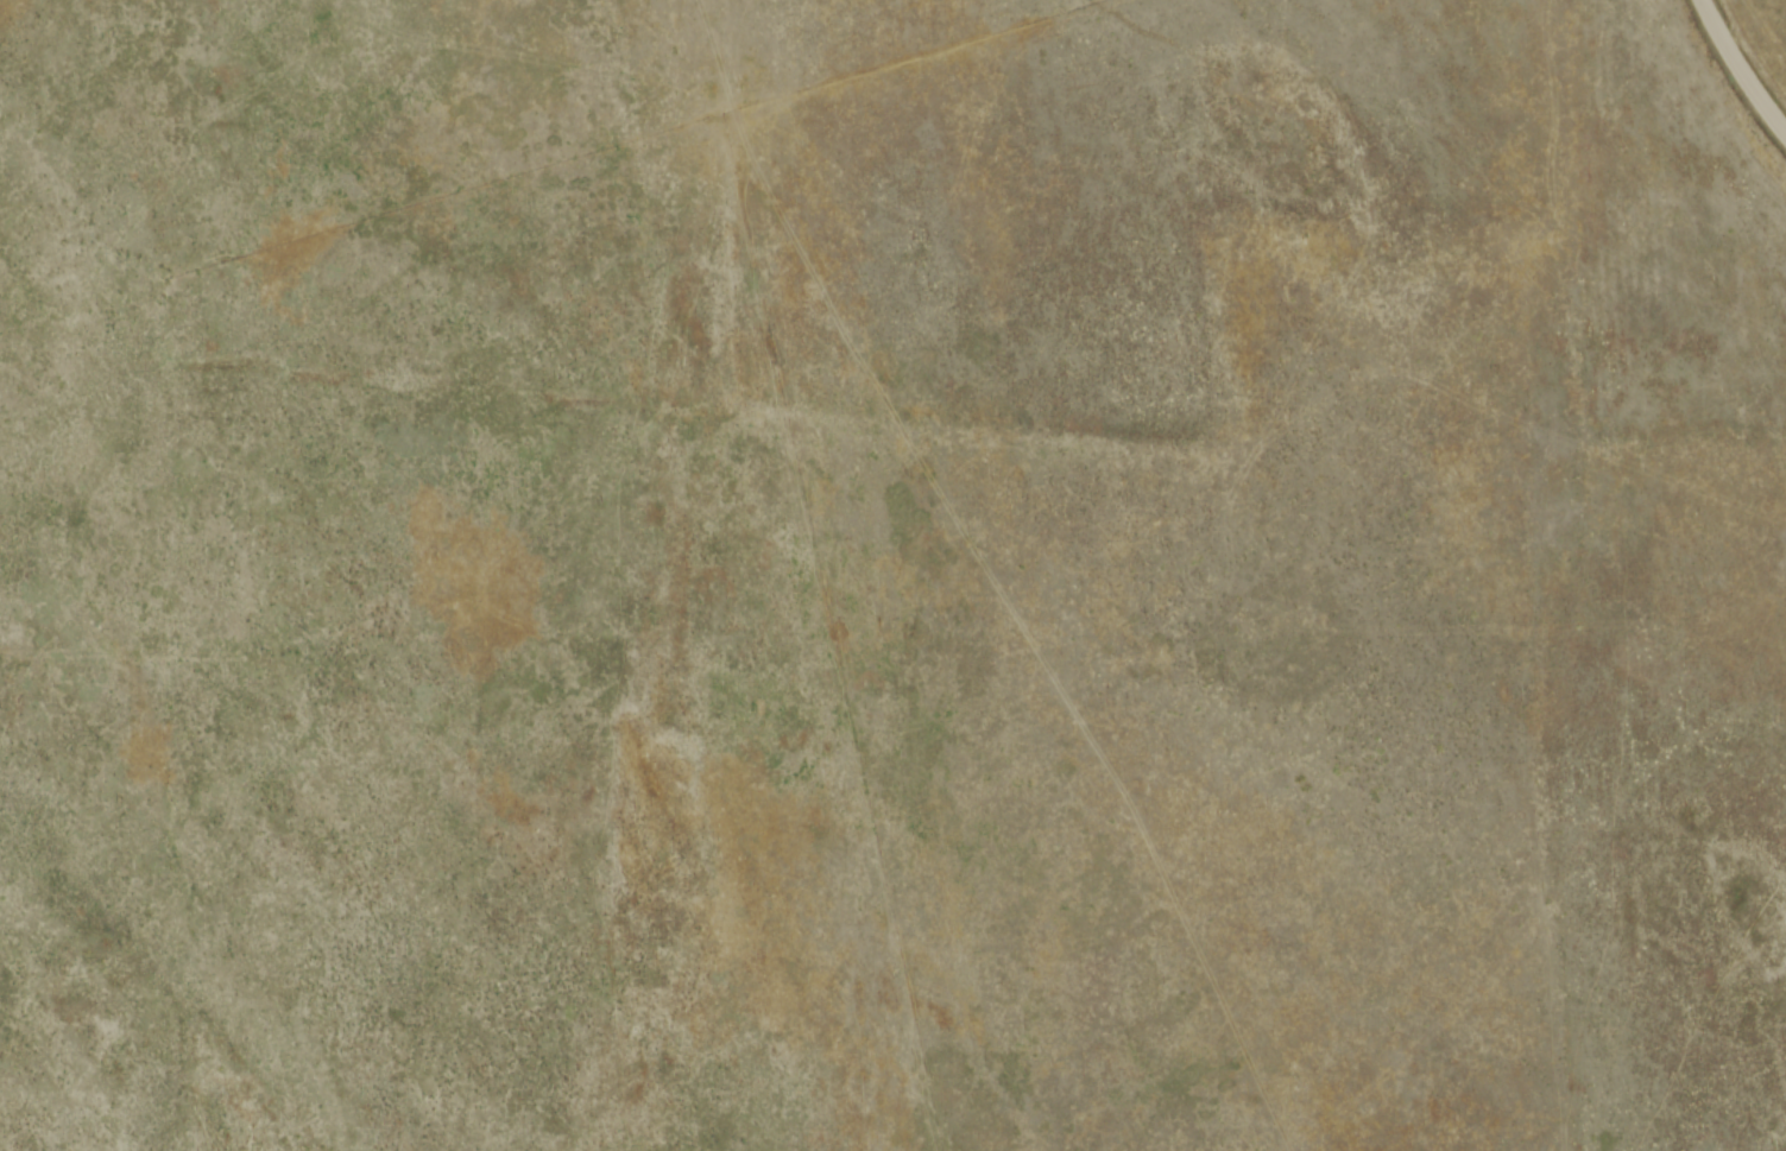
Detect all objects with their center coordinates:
road: (1740, 68)

